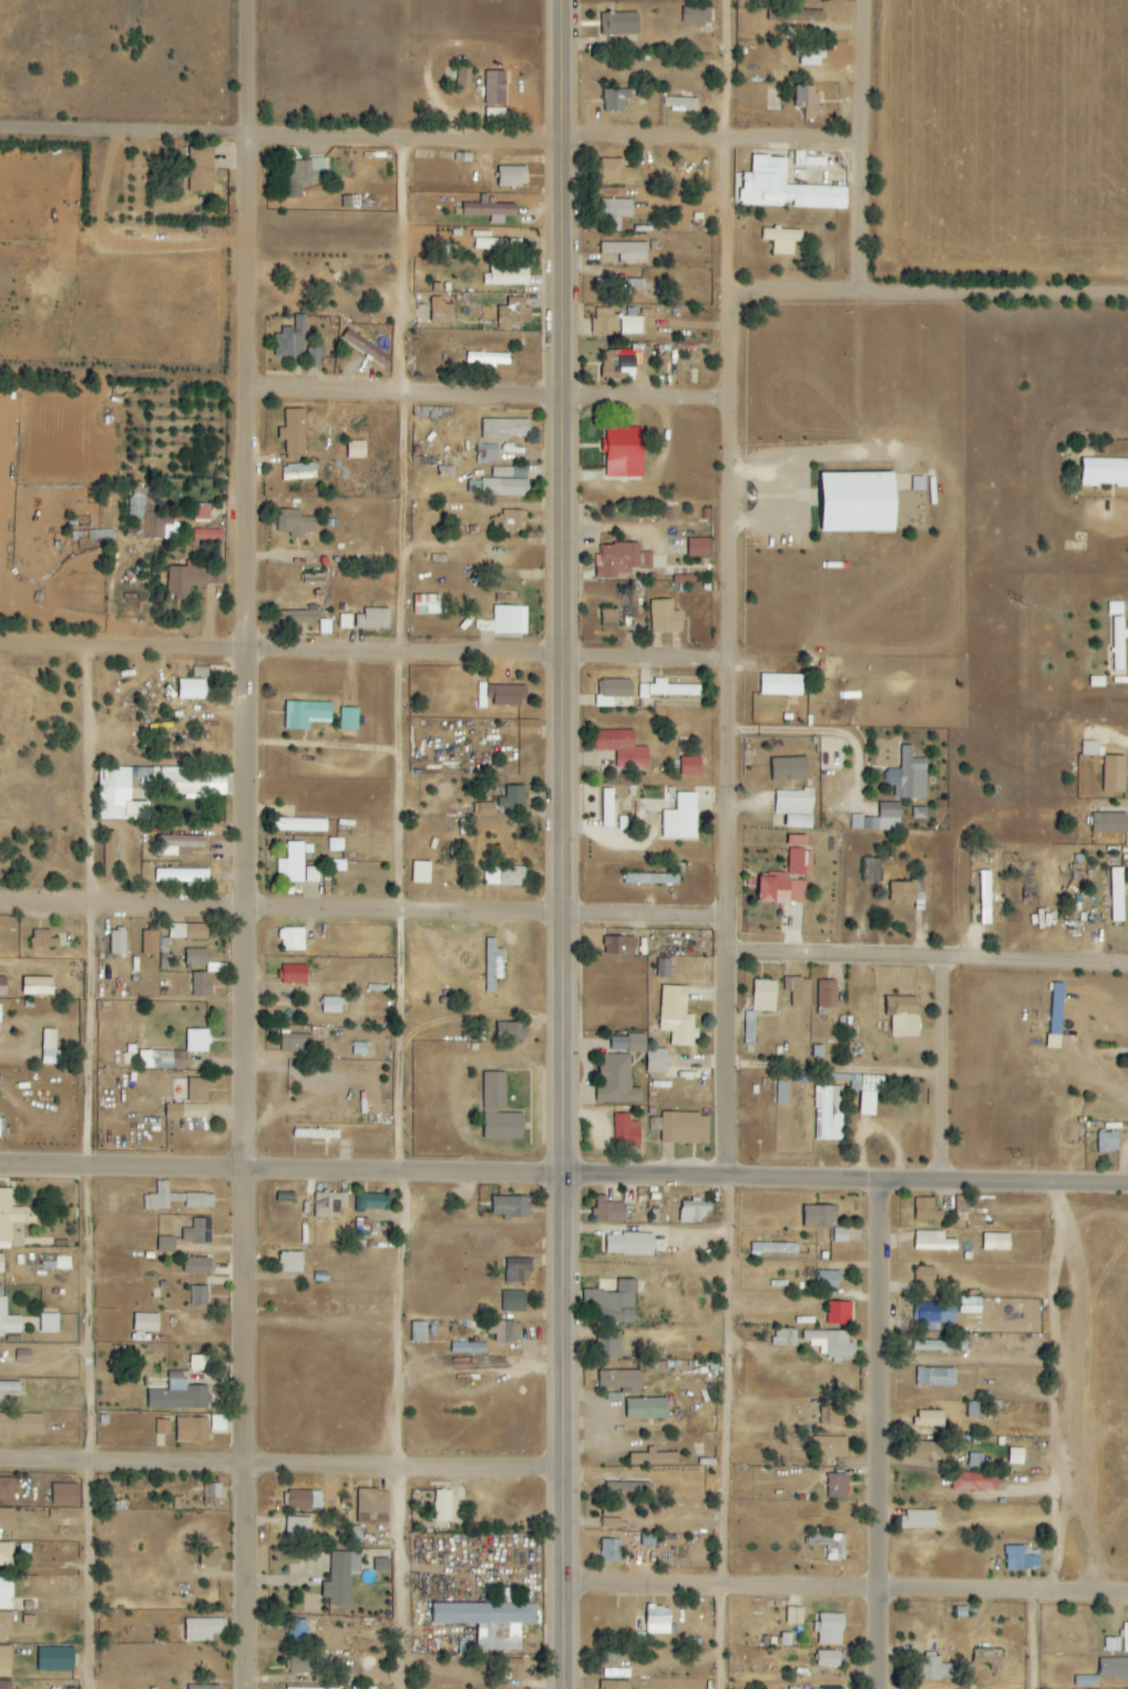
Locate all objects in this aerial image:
building: (696, 14)
building: (777, 17)
building: (619, 23)
building: (810, 55)
road: (735, 72)
road: (872, 72)
building: (464, 78)
building: (495, 86)
building: (616, 100)
building: (809, 101)
building: (680, 103)
road: (285, 140)
road: (802, 145)
road: (652, 146)
building: (804, 158)
building: (201, 170)
building: (616, 171)
building: (302, 176)
building: (512, 176)
building: (786, 188)
building: (490, 209)
building: (616, 213)
road: (735, 218)
road: (869, 222)
building: (782, 239)
building: (496, 244)
building: (627, 252)
building: (507, 276)
building: (619, 284)
building: (308, 285)
road: (931, 298)
building: (441, 311)
building: (513, 313)
building: (630, 321)
building: (605, 323)
building: (291, 339)
building: (367, 348)
building: (314, 356)
building: (488, 359)
building: (621, 362)
road: (411, 399)
road: (650, 403)
building: (505, 429)
building: (294, 431)
building: (356, 450)
building: (624, 452)
building: (488, 454)
building: (298, 471)
building: (510, 472)
building: (1105, 472)
building: (498, 488)
road: (769, 489)
road: (735, 493)
building: (858, 502)
building: (150, 519)
building: (511, 521)
building: (295, 523)
building: (207, 535)
building: (699, 547)
building: (621, 560)
building: (192, 580)
power tower: (1013, 602)
building: (427, 605)
building: (1116, 608)
building: (297, 617)
building: (665, 617)
building: (373, 618)
building: (609, 618)
building: (510, 621)
building: (345, 622)
building: (1119, 639)
road: (283, 654)
road: (652, 663)
building: (781, 685)
building: (192, 689)
building: (615, 689)
building: (668, 689)
building: (306, 715)
building: (349, 719)
building: (623, 749)
building: (1094, 749)
road: (331, 751)
road: (855, 751)
building: (689, 767)
building: (789, 769)
building: (1115, 775)
building: (909, 776)
building: (196, 789)
building: (513, 798)
building: (607, 808)
building: (796, 808)
building: (485, 809)
road: (736, 810)
building: (684, 816)
building: (880, 819)
building: (1109, 822)
building: (300, 826)
road: (254, 844)
road: (567, 844)
building: (177, 846)
power tower: (1014, 849)
building: (110, 856)
building: (294, 862)
building: (872, 870)
building: (421, 872)
building: (181, 877)
building: (438, 877)
building: (506, 877)
building: (789, 877)
building: (652, 880)
building: (902, 893)
building: (1117, 895)
building: (985, 898)
road: (284, 913)
road: (410, 917)
road: (653, 920)
building: (188, 931)
building: (43, 939)
building: (293, 939)
road: (736, 940)
building: (117, 942)
building: (150, 942)
building: (619, 945)
building: (196, 956)
building: (493, 964)
road: (931, 964)
building: (664, 968)
building: (294, 974)
building: (199, 984)
building: (38, 985)
building: (2, 986)
building: (800, 992)
building: (828, 994)
building: (765, 995)
building: (334, 1005)
building: (1056, 1011)
building: (0, 1013)
building: (903, 1015)
building: (677, 1016)
building: (750, 1027)
building: (513, 1028)
building: (196, 1041)
building: (636, 1043)
building: (50, 1046)
building: (163, 1060)
building: (657, 1061)
road: (841, 1063)
road: (735, 1068)
road: (945, 1074)
building: (617, 1081)
building: (196, 1091)
building: (494, 1091)
building: (782, 1092)
building: (868, 1103)
building: (829, 1113)
building: (503, 1125)
building: (685, 1128)
building: (626, 1132)
building: (316, 1134)
building: (1108, 1142)
power tower: (1016, 1160)
road: (98, 1168)
road: (286, 1174)
road: (851, 1183)
building: (176, 1199)
building: (372, 1201)
building: (329, 1204)
building: (512, 1207)
building: (694, 1210)
building: (926, 1210)
building: (608, 1211)
building: (820, 1216)
building: (8, 1218)
building: (197, 1232)
building: (841, 1235)
building: (933, 1241)
building: (996, 1241)
building: (166, 1245)
building: (629, 1245)
building: (775, 1248)
building: (291, 1261)
building: (1, 1263)
building: (59, 1263)
building: (196, 1266)
building: (516, 1269)
building: (925, 1279)
building: (827, 1280)
building: (197, 1297)
building: (513, 1301)
building: (617, 1304)
building: (839, 1313)
building: (933, 1314)
building: (8, 1318)
building: (145, 1322)
building: (49, 1323)
building: (420, 1331)
building: (505, 1331)
building: (785, 1338)
building: (608, 1343)
building: (832, 1343)
building: (940, 1345)
building: (469, 1349)
building: (23, 1355)
building: (198, 1362)
building: (935, 1376)
building: (618, 1379)
building: (9, 1388)
road: (1058, 1389)
building: (178, 1395)
building: (645, 1407)
building: (833, 1415)
building: (931, 1419)
building: (218, 1423)
building: (21, 1424)
building: (162, 1427)
building: (193, 1430)
road: (721, 1434)
power tower: (1015, 1434)
road: (881, 1435)
building: (831, 1446)
building: (927, 1451)
building: (1016, 1456)
building: (654, 1458)
road: (286, 1468)
building: (975, 1482)
building: (628, 1486)
building: (838, 1486)
building: (7, 1490)
building: (212, 1492)
building: (65, 1495)
building: (305, 1501)
building: (373, 1506)
building: (442, 1506)
building: (613, 1515)
building: (7, 1519)
building: (919, 1519)
building: (298, 1531)
building: (830, 1545)
building: (611, 1550)
building: (6, 1555)
building: (209, 1557)
building: (1023, 1558)
building: (381, 1564)
building: (341, 1577)
road: (851, 1587)
building: (6, 1594)
building: (794, 1616)
building: (658, 1620)
building: (489, 1623)
building: (4, 1626)
building: (202, 1629)
building: (830, 1629)
road: (1029, 1639)
building: (55, 1659)
building: (829, 1659)
building: (4, 1662)
building: (302, 1665)
building: (1114, 1668)
building: (934, 1669)
building: (513, 1671)
building: (1086, 1681)
power tower: (1013, 1682)
building: (4, 1685)
building: (615, 1685)
building: (203, 1687)
building: (295, 1688)
building: (363, 1688)
building: (832, 1688)

